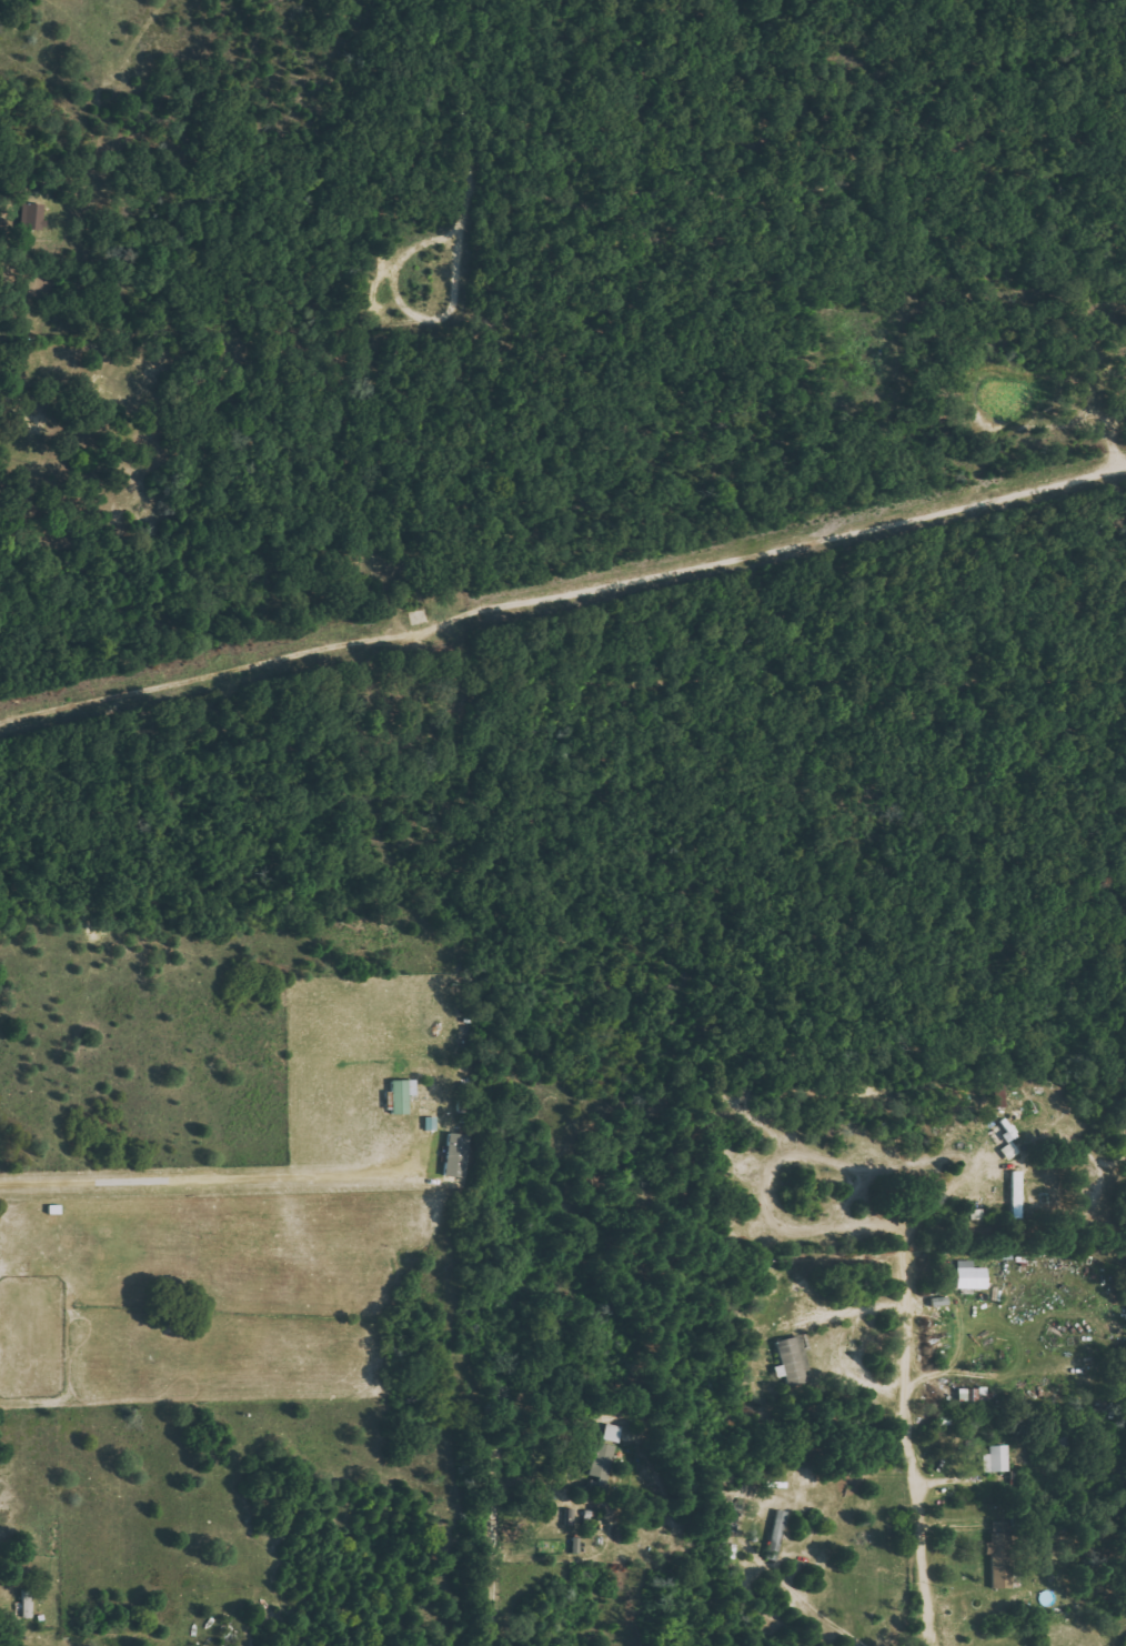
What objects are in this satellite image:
building: (33, 215)
road: (198, 731)
building: (402, 1095)
building: (1011, 1151)
building: (456, 1154)
building: (971, 1275)
building: (774, 1281)
building: (793, 1361)
building: (972, 1395)
building: (613, 1433)
road: (916, 1448)
building: (996, 1458)
building: (603, 1461)
building: (573, 1516)
building: (776, 1535)
building: (1001, 1554)
building: (27, 1604)

